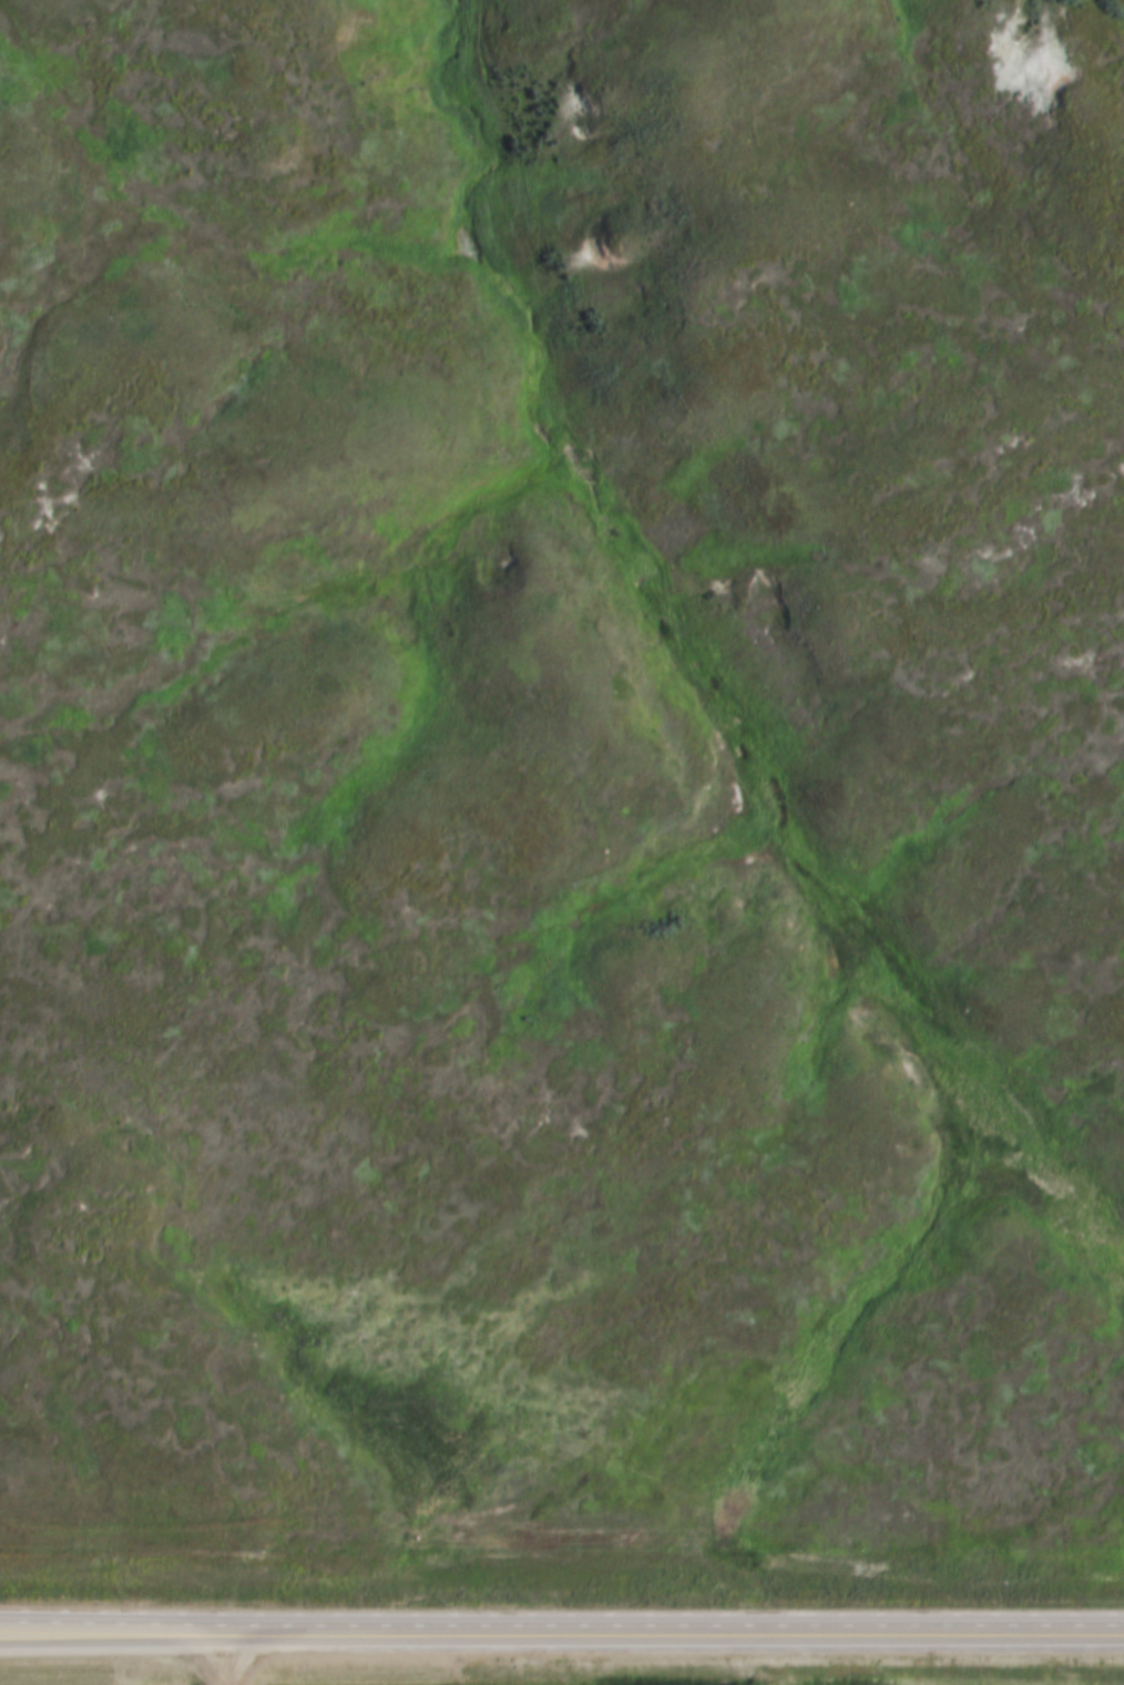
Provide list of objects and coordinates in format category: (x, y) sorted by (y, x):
road: (561, 1632)
road: (223, 1661)

